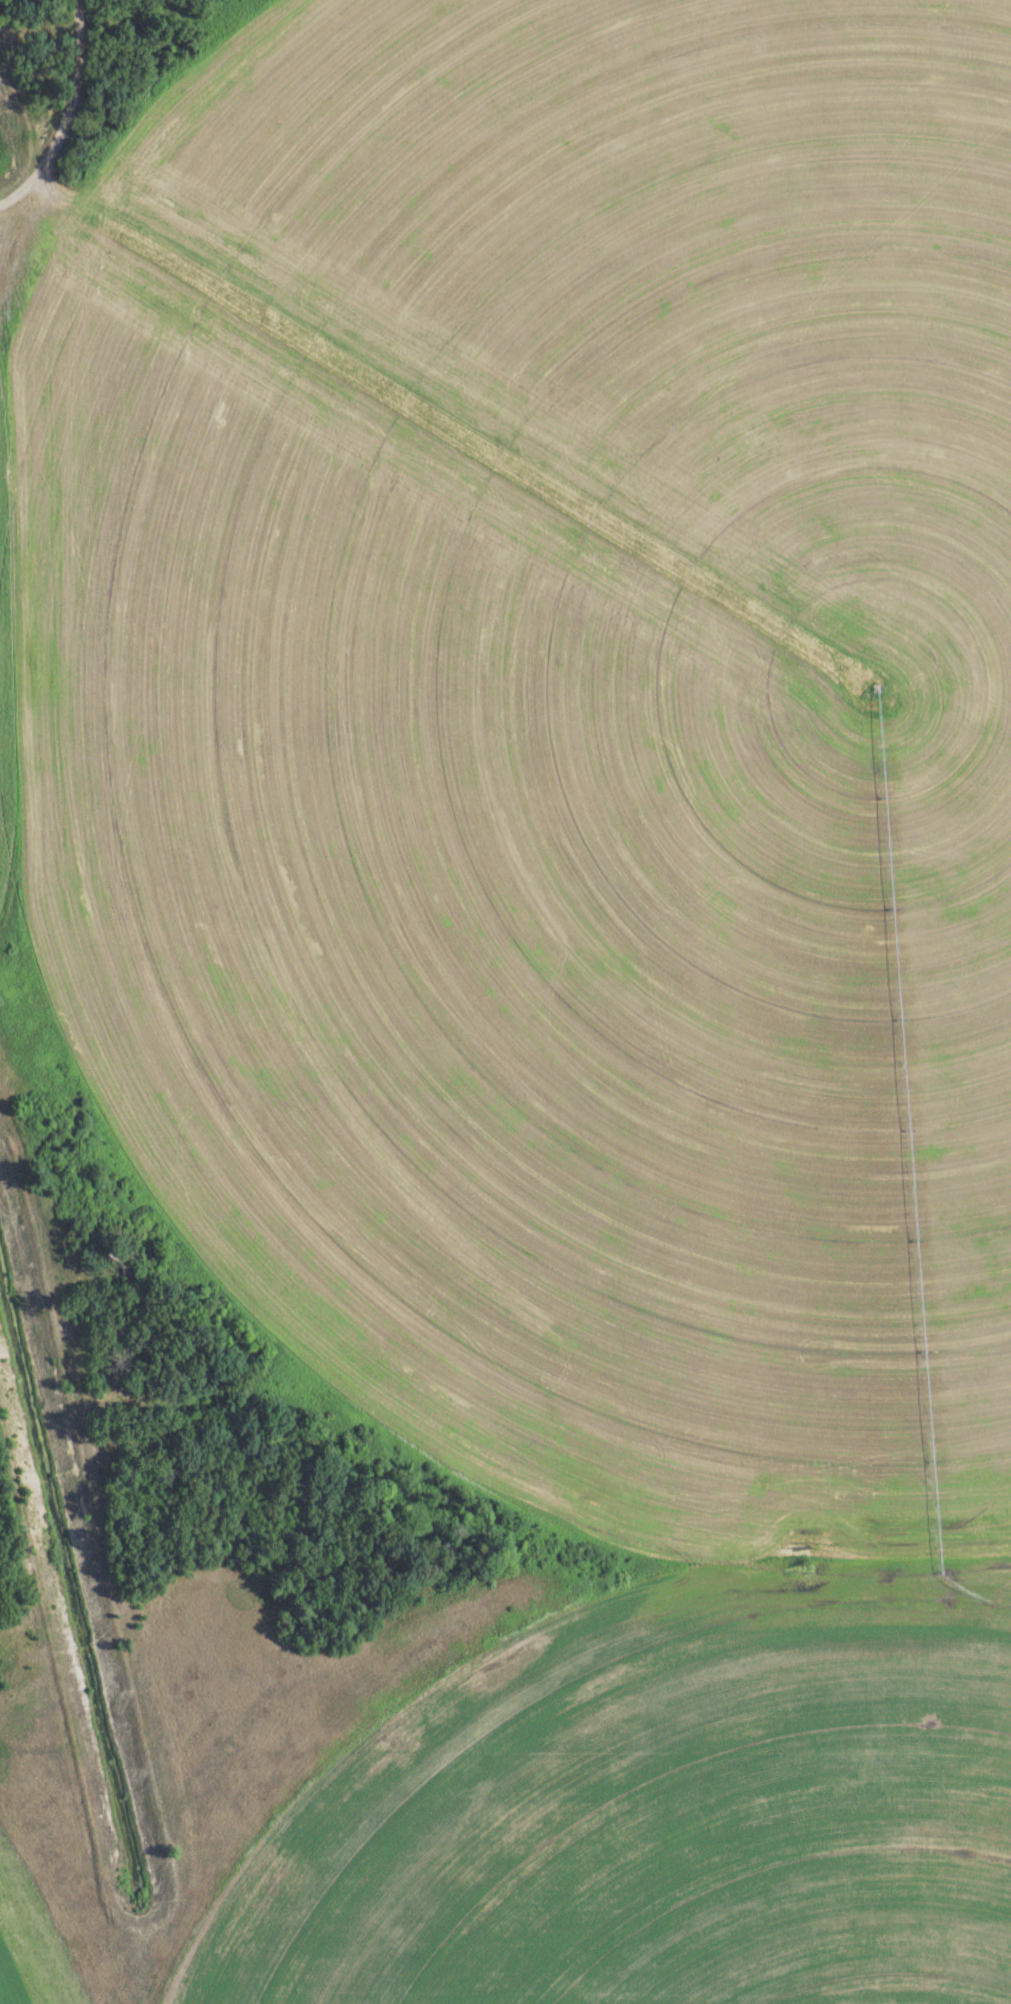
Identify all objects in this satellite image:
road: (75, 88)
wastewater plant: (505, 1002)

